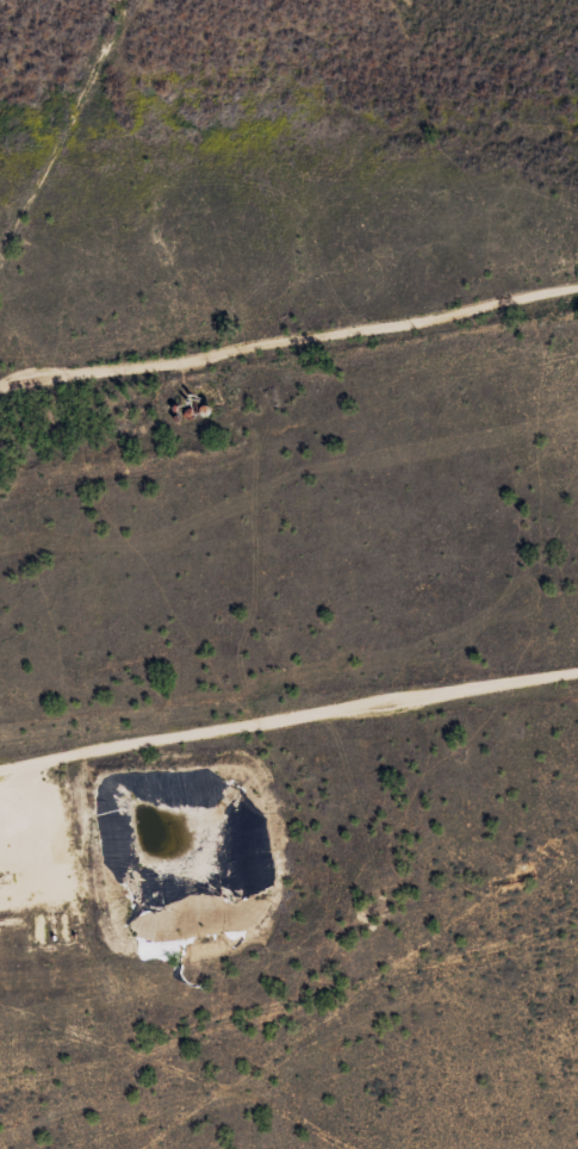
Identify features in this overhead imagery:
road: (288, 716)

